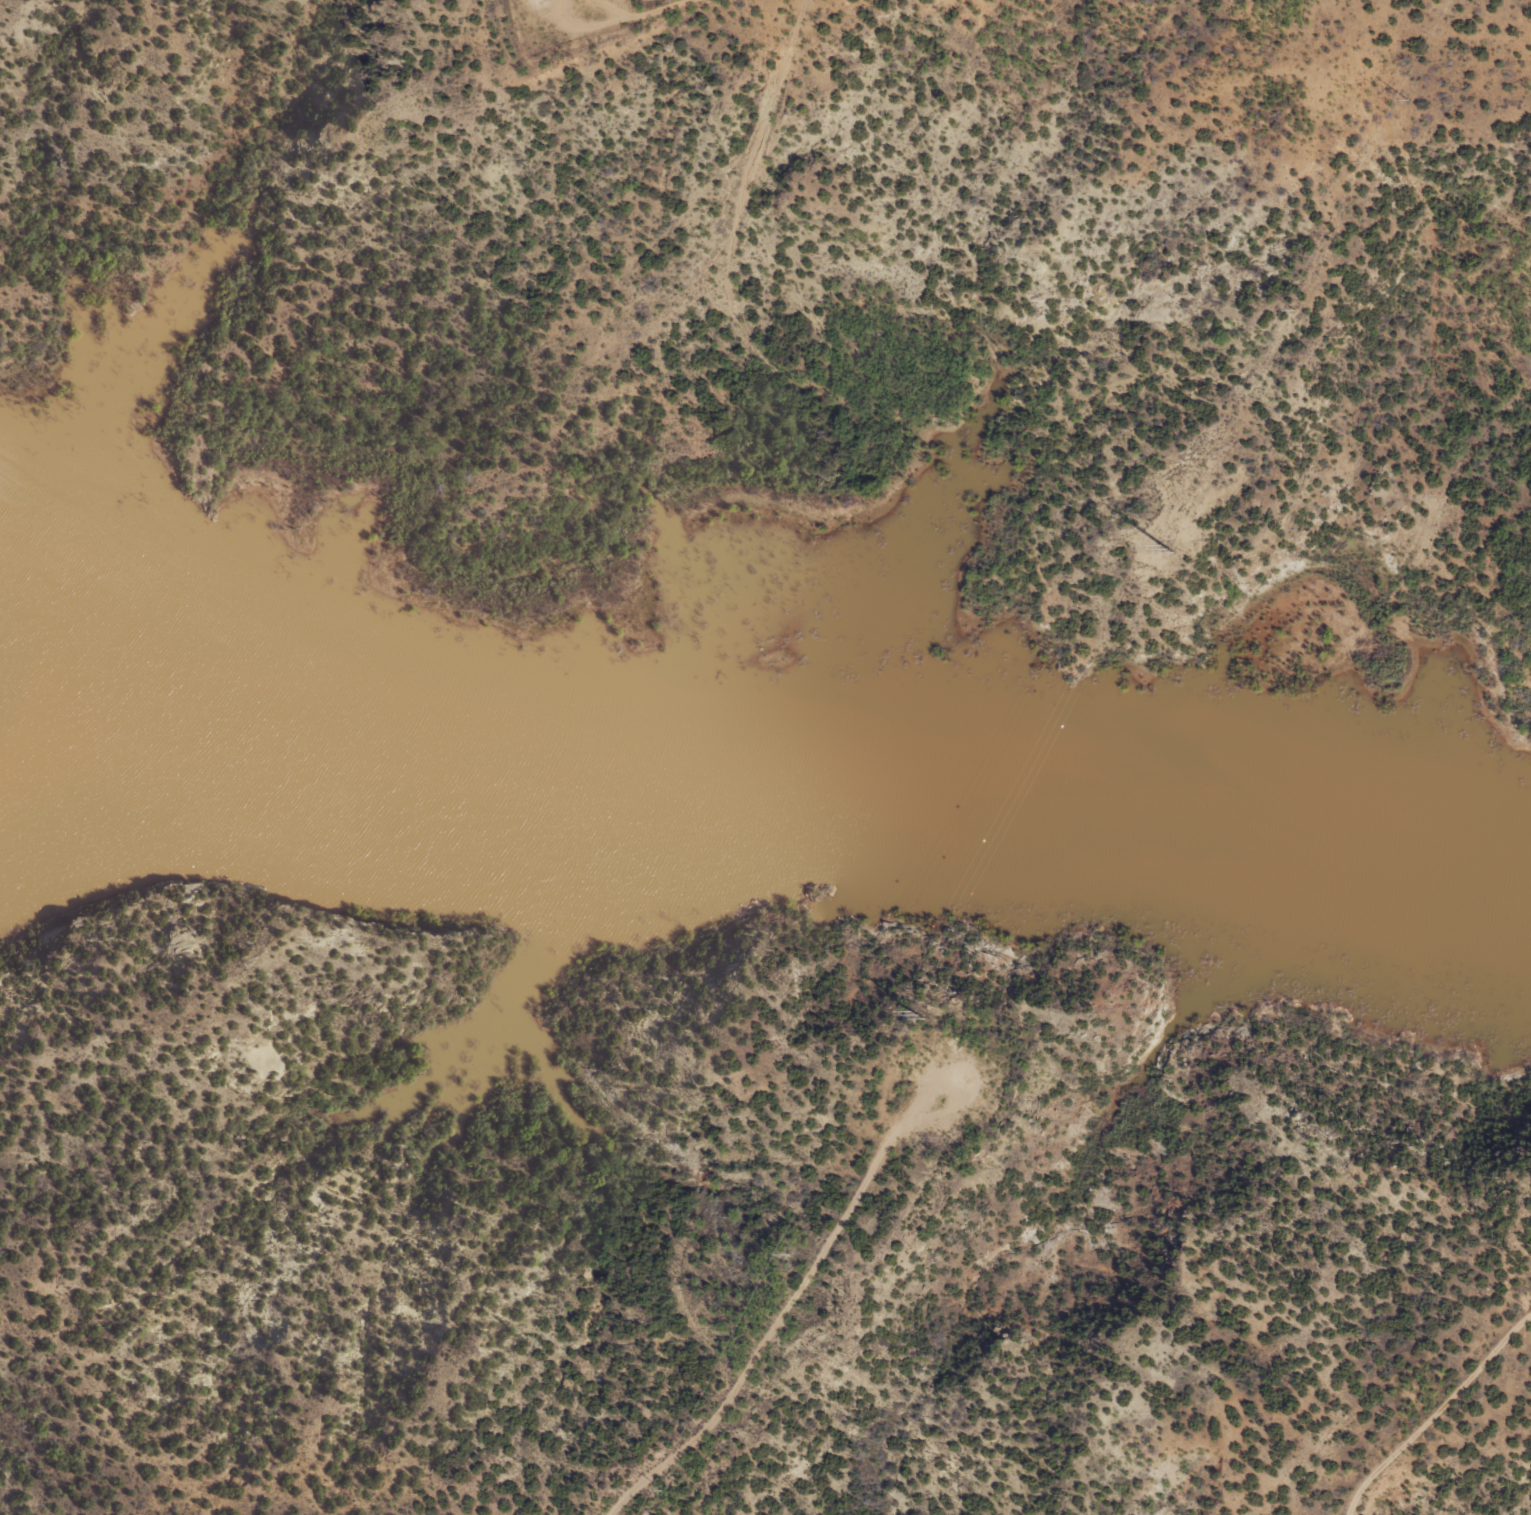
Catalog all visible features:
road: (1492, 7)
river: (752, 808)
road: (1365, 1437)

